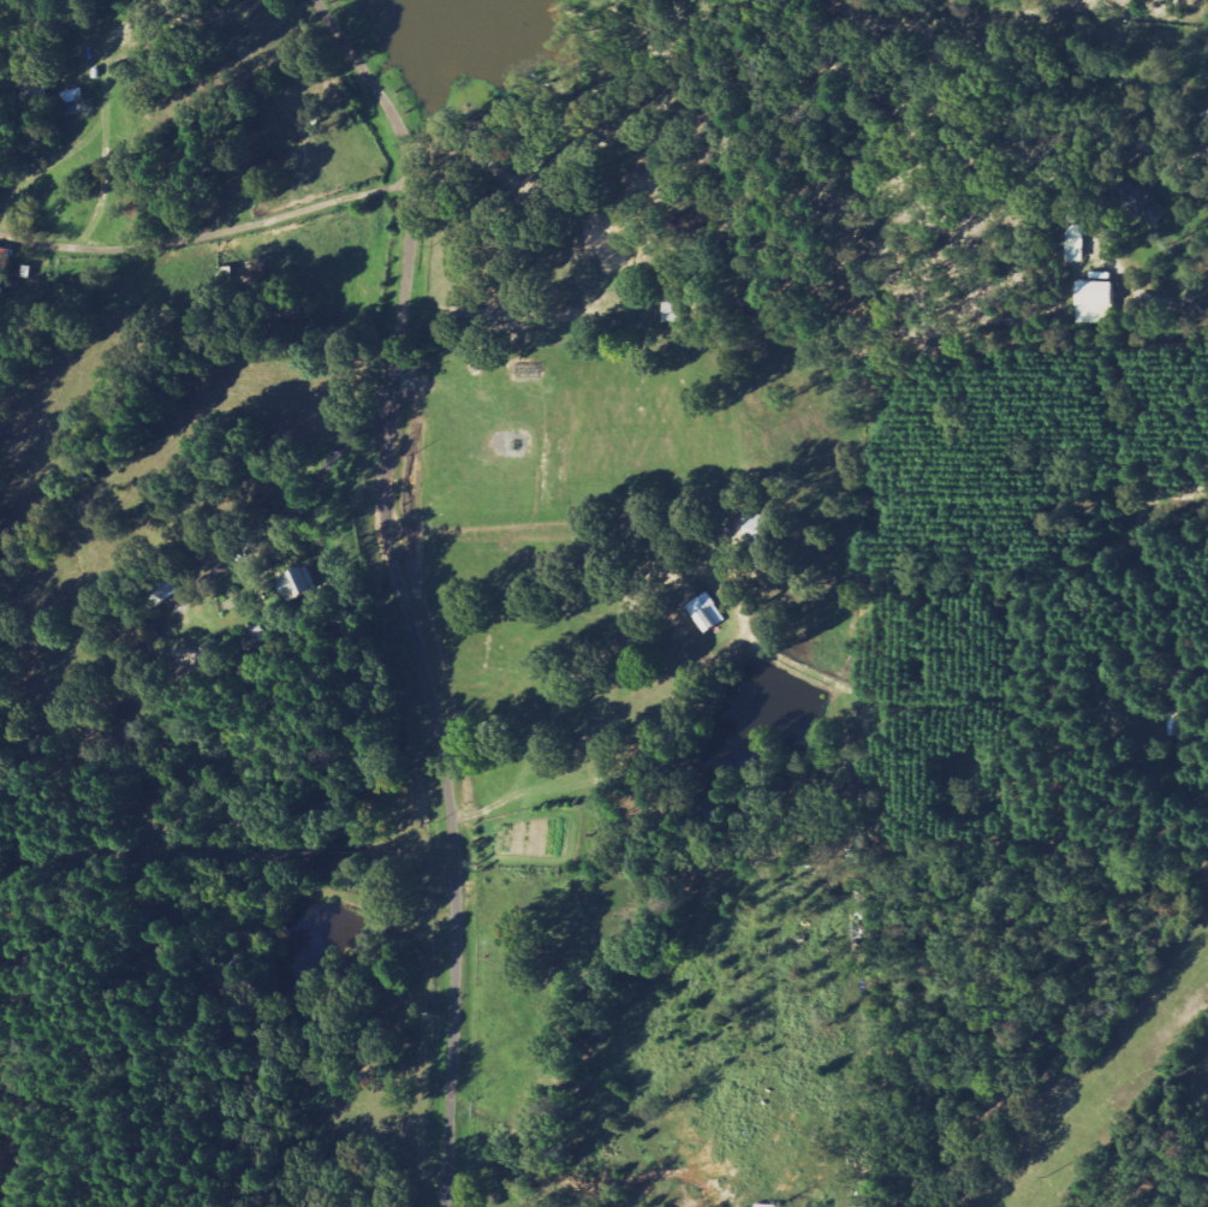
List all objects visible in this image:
building: (79, 102)
building: (1144, 202)
building: (1078, 244)
building: (4, 260)
building: (1102, 303)
building: (766, 531)
building: (307, 584)
road: (403, 591)

